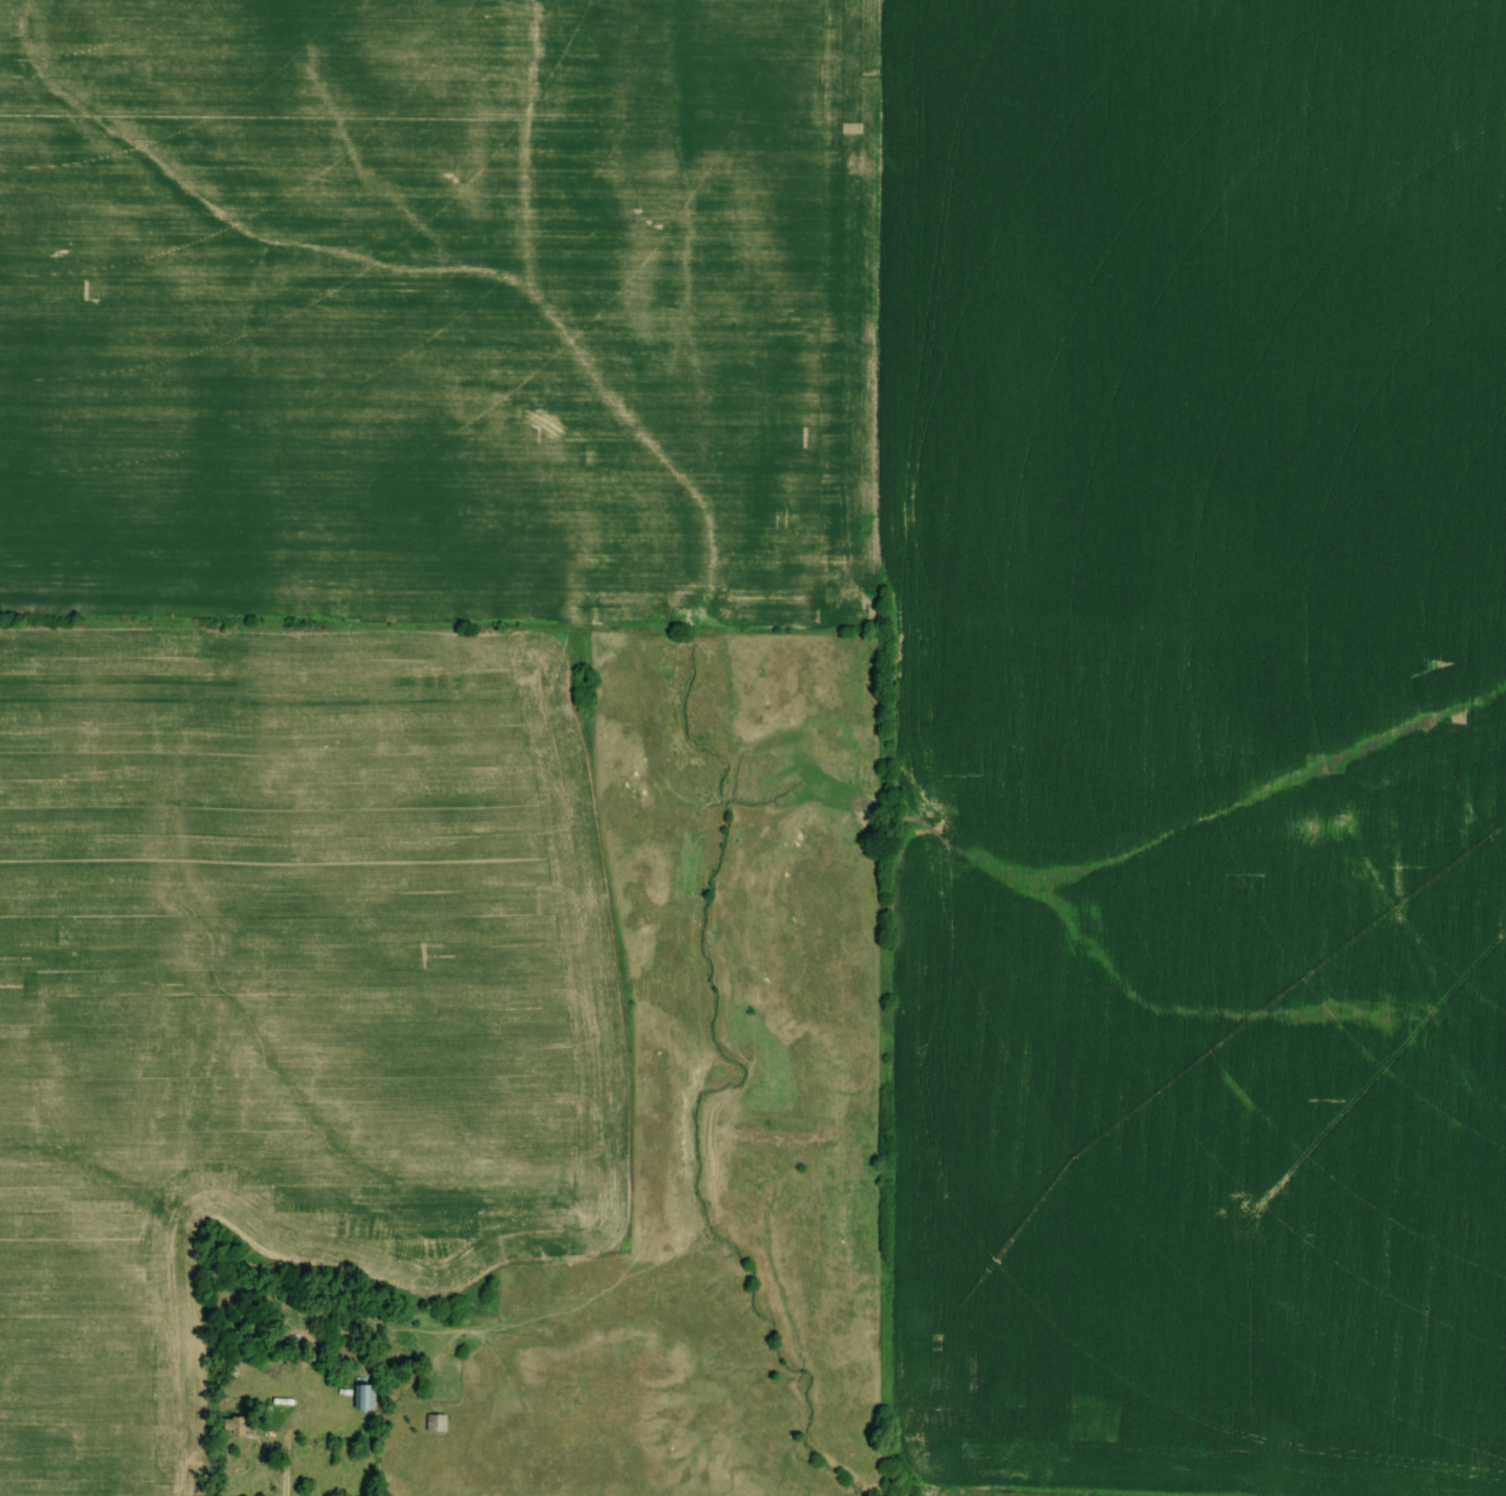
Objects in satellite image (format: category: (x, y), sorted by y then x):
building: (363, 1396)
building: (435, 1422)
building: (238, 1426)
road: (283, 1449)

